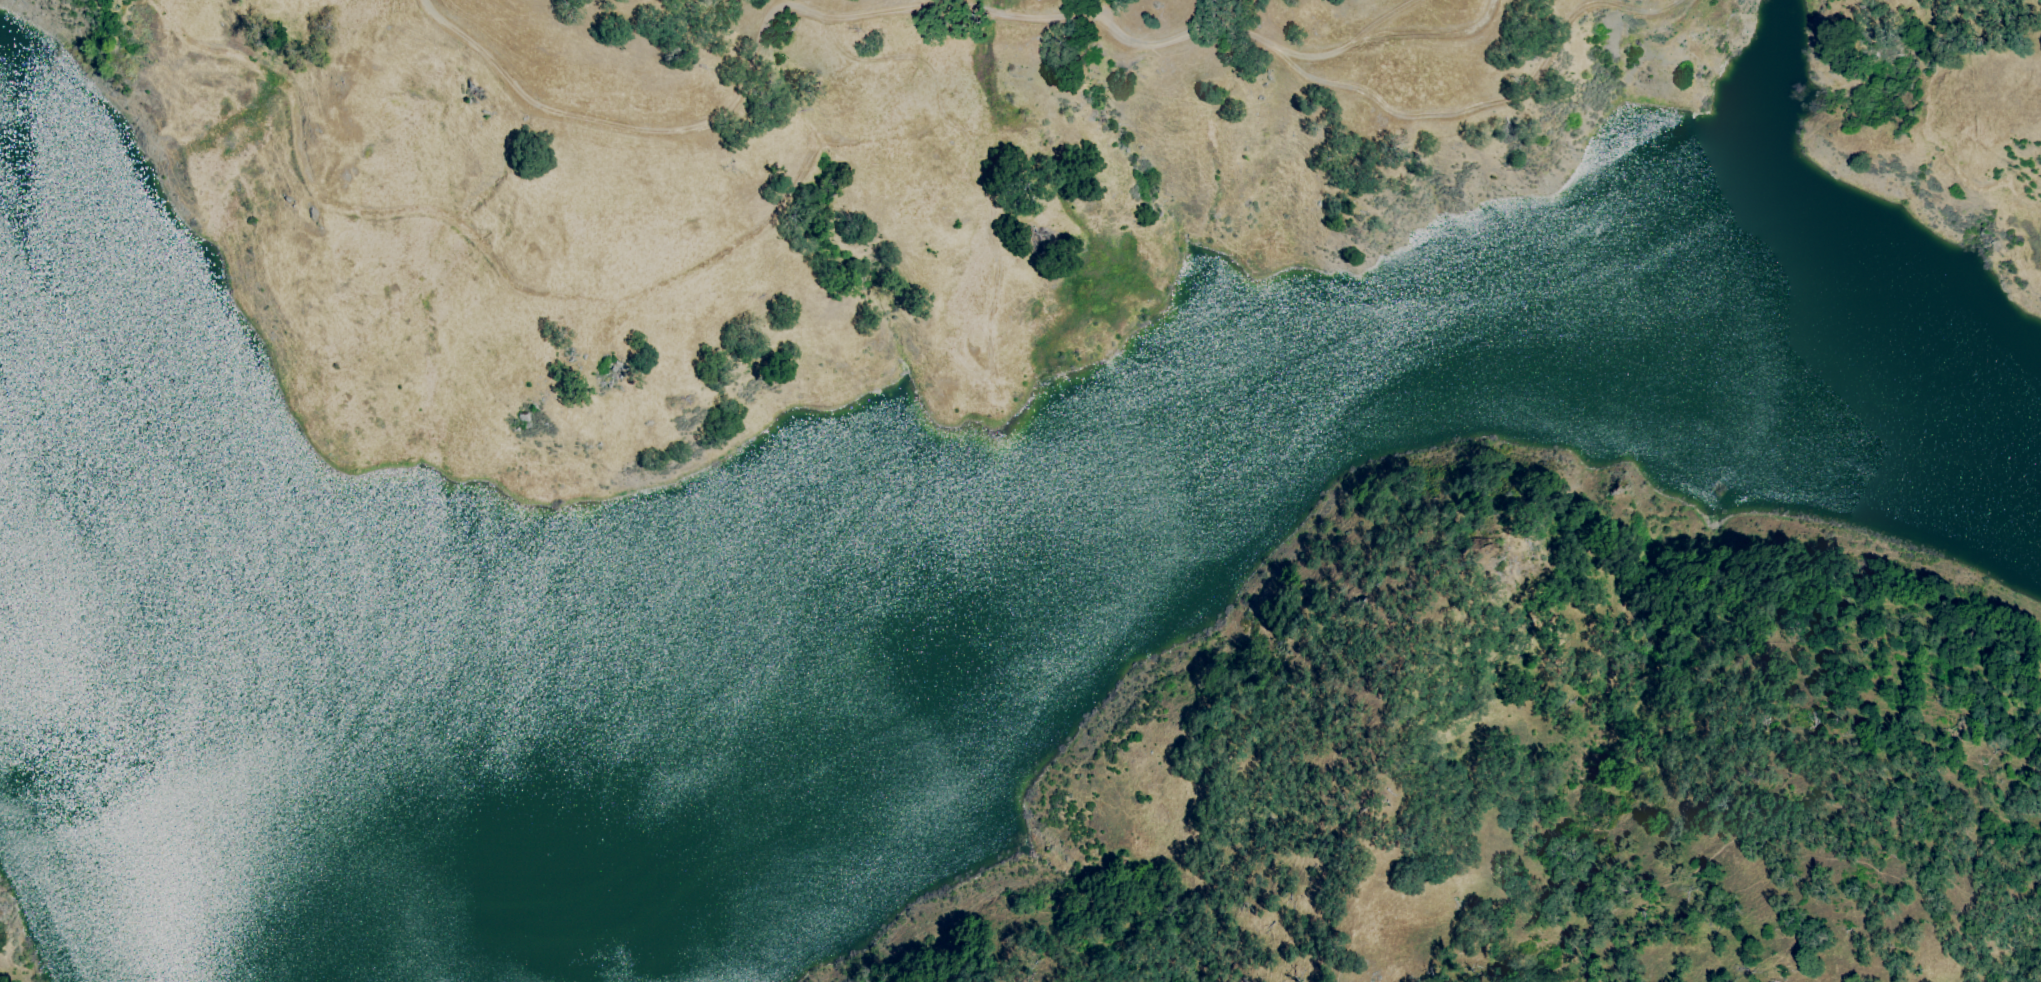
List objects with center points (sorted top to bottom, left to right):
road: (859, 16)

